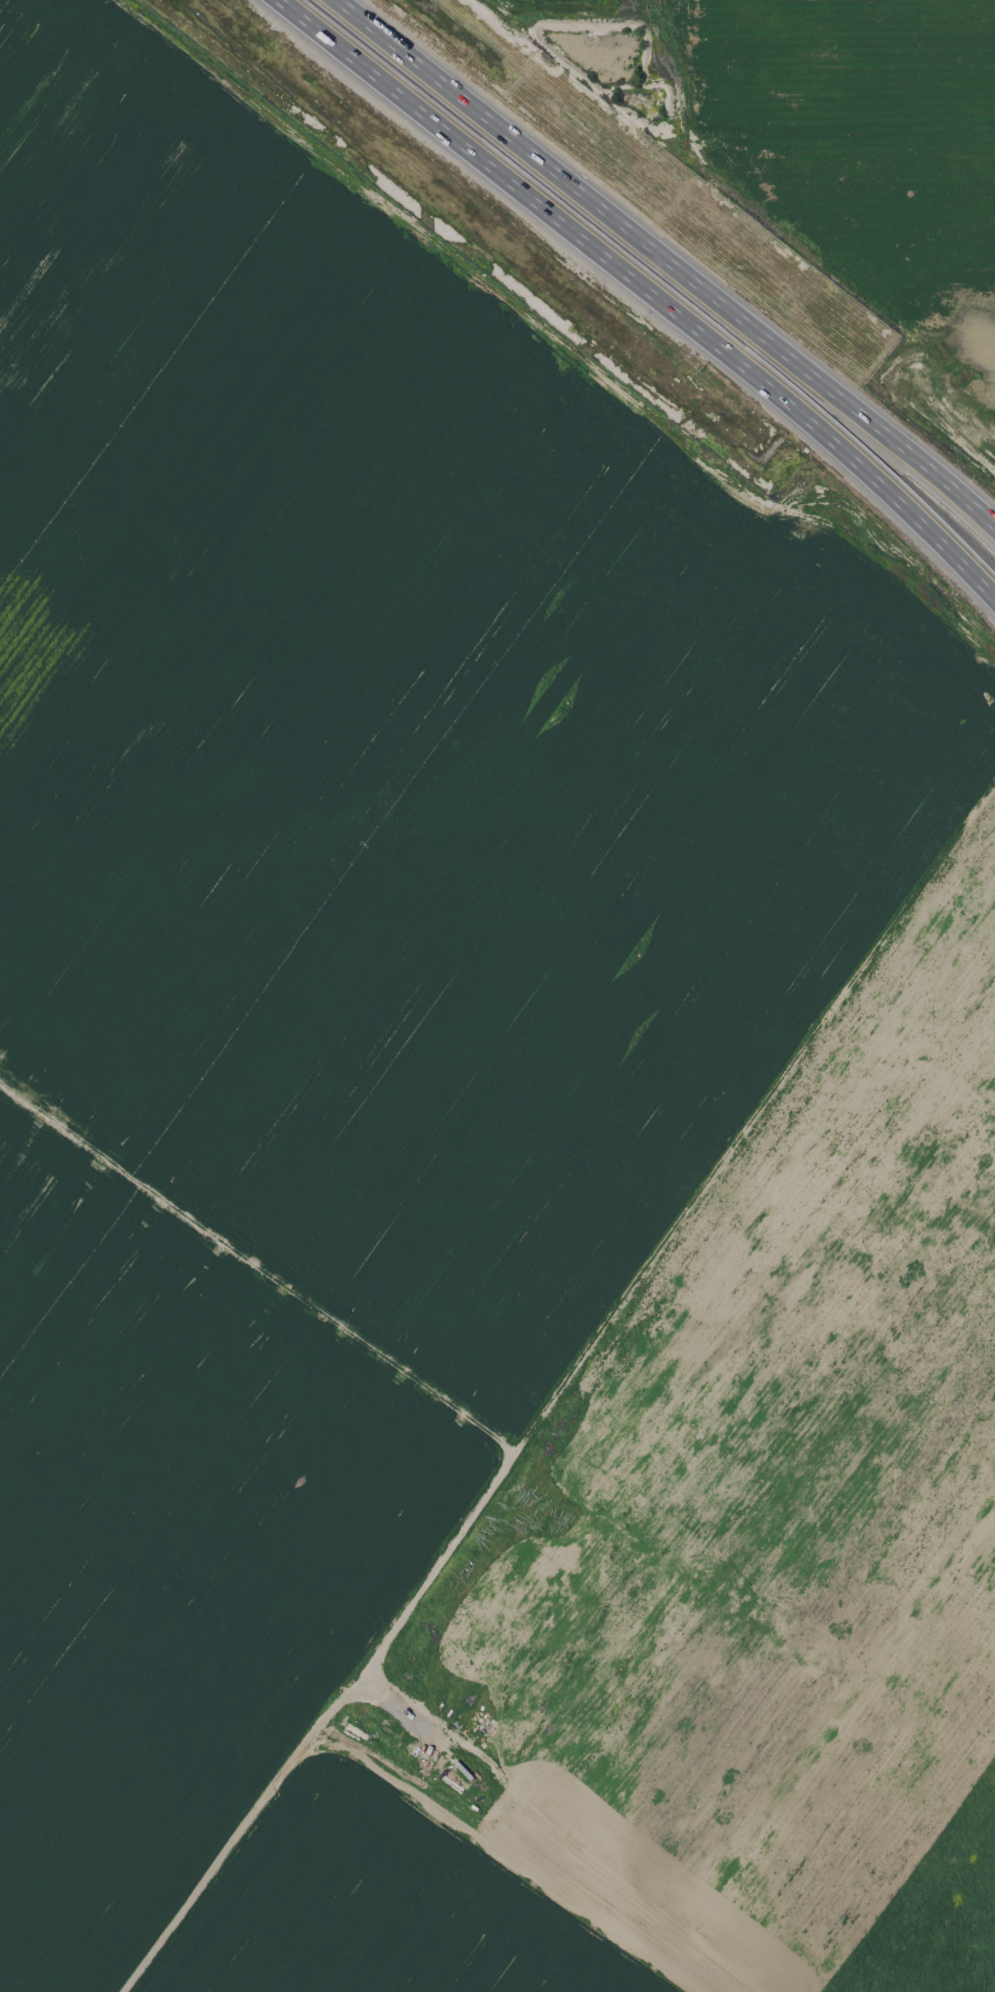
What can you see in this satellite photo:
road: (664, 264)
road: (643, 291)

